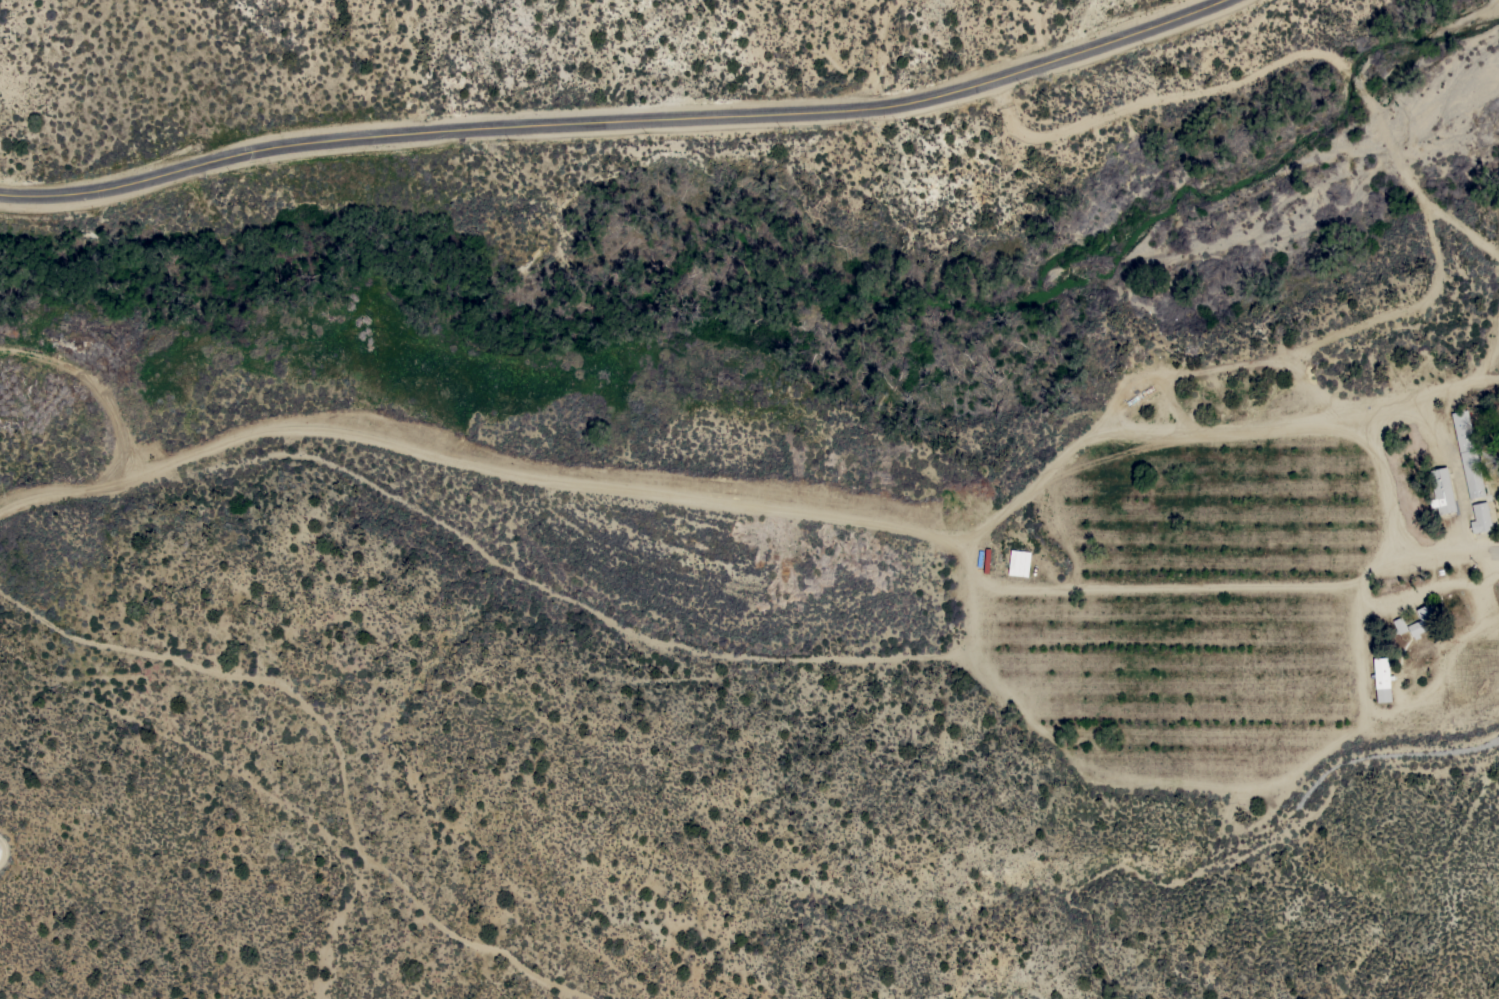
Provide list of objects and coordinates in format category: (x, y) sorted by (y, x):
road: (1272, 63)
road: (618, 121)
road: (1477, 376)
building: (1468, 454)
building: (1442, 490)
road: (775, 510)
building: (1481, 517)
road: (1446, 548)
building: (1018, 562)
road: (1249, 586)
building: (1423, 619)
building: (1399, 625)
building: (1382, 679)
building: (0, 851)

